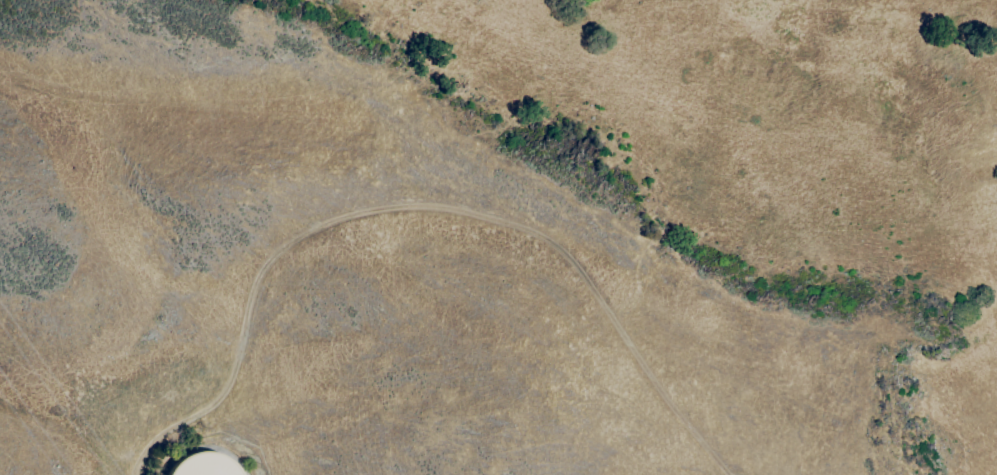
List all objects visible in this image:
building: (205, 465)

